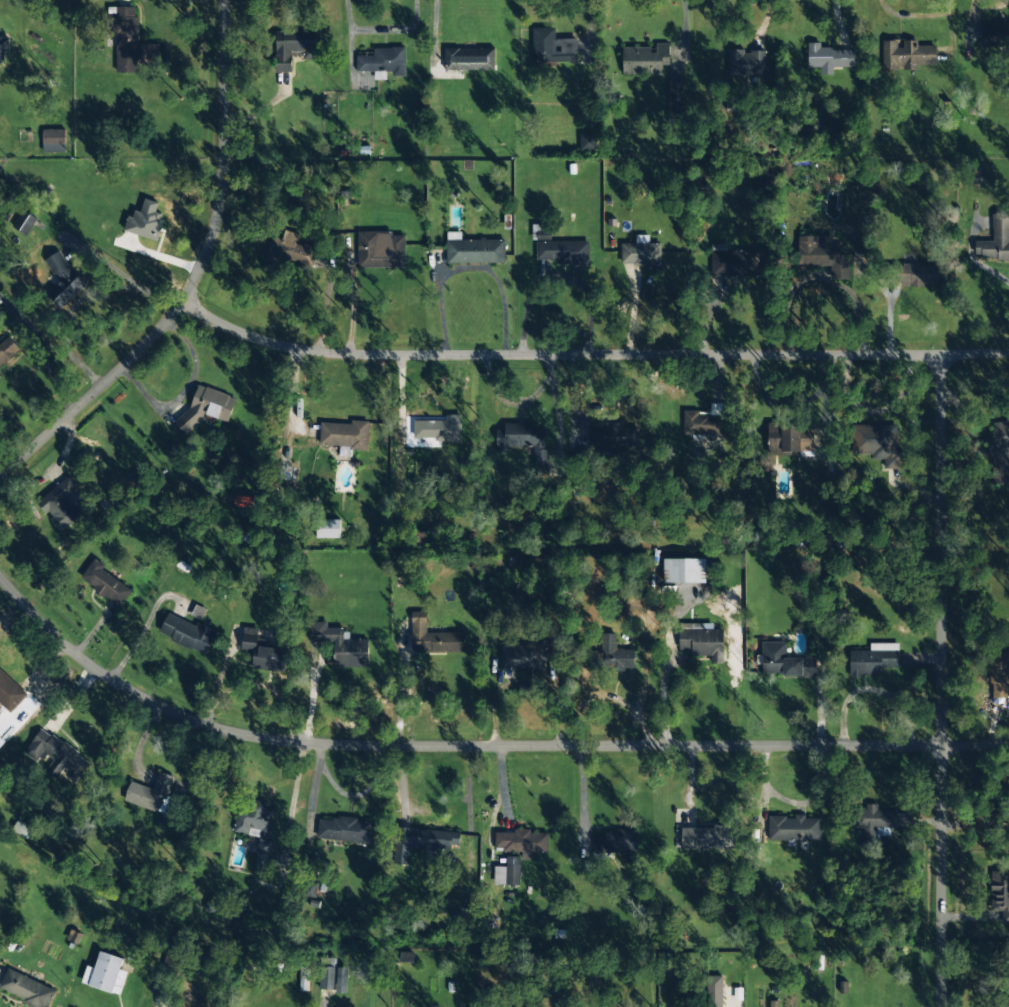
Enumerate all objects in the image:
road: (586, 27)
road: (683, 28)
building: (994, 34)
building: (127, 39)
building: (552, 46)
building: (293, 47)
building: (3, 48)
building: (906, 55)
building: (829, 57)
building: (469, 59)
building: (643, 60)
building: (381, 61)
building: (746, 63)
building: (675, 98)
building: (53, 140)
building: (587, 141)
building: (24, 222)
building: (995, 239)
building: (558, 248)
building: (381, 249)
building: (474, 249)
building: (288, 251)
building: (641, 254)
building: (824, 254)
building: (733, 262)
building: (910, 274)
road: (195, 276)
building: (64, 278)
building: (7, 349)
road: (590, 354)
building: (207, 406)
building: (704, 427)
building: (435, 429)
building: (342, 434)
building: (613, 436)
building: (790, 438)
building: (527, 440)
building: (877, 441)
building: (999, 452)
building: (59, 503)
building: (328, 528)
building: (686, 570)
building: (106, 578)
building: (186, 633)
building: (433, 637)
building: (702, 641)
building: (340, 645)
building: (262, 652)
building: (522, 656)
building: (612, 659)
building: (873, 660)
building: (783, 661)
building: (999, 675)
road: (942, 681)
building: (9, 692)
building: (1, 742)
road: (477, 744)
building: (57, 756)
building: (149, 793)
building: (875, 819)
building: (254, 822)
building: (792, 828)
building: (22, 829)
building: (343, 829)
building: (708, 838)
building: (520, 841)
building: (421, 842)
building: (614, 845)
building: (512, 870)
building: (1000, 893)
building: (210, 905)
building: (73, 936)
building: (107, 973)
building: (326, 974)
building: (303, 980)
building: (26, 989)
building: (714, 991)
building: (773, 1003)

